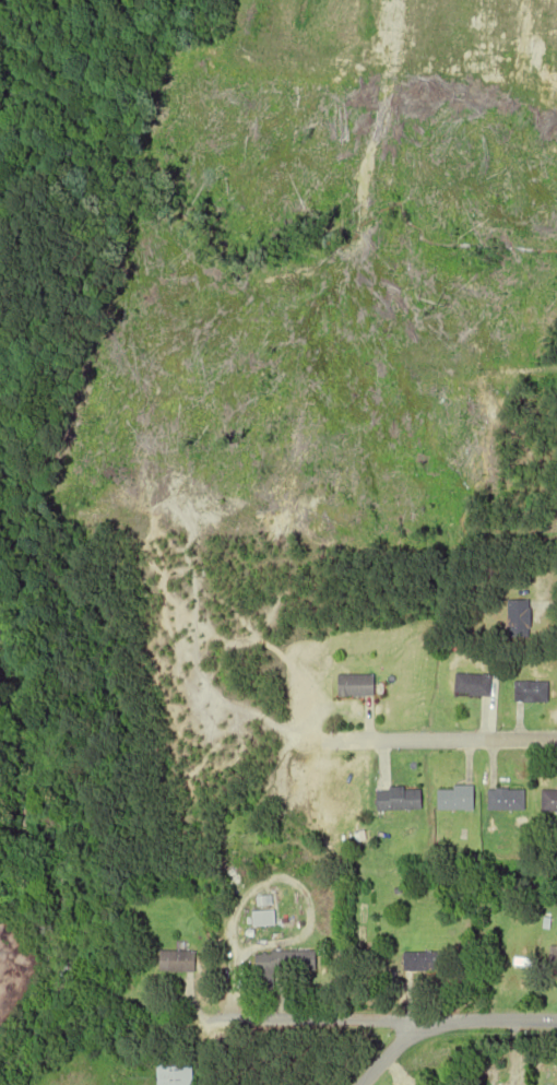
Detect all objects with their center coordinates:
building: (520, 618)
building: (475, 685)
building: (356, 686)
building: (533, 693)
road: (442, 738)
building: (399, 800)
building: (458, 800)
building: (508, 801)
building: (549, 802)
building: (262, 918)
building: (554, 958)
building: (178, 960)
building: (425, 960)
building: (281, 964)
road: (488, 1021)
road: (312, 1023)
road: (390, 1053)
building: (177, 1073)

